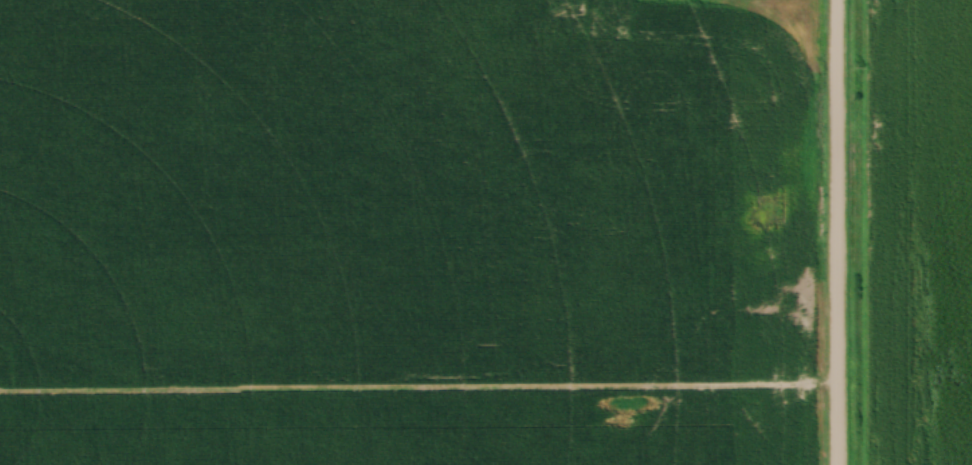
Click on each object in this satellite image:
road: (839, 232)

